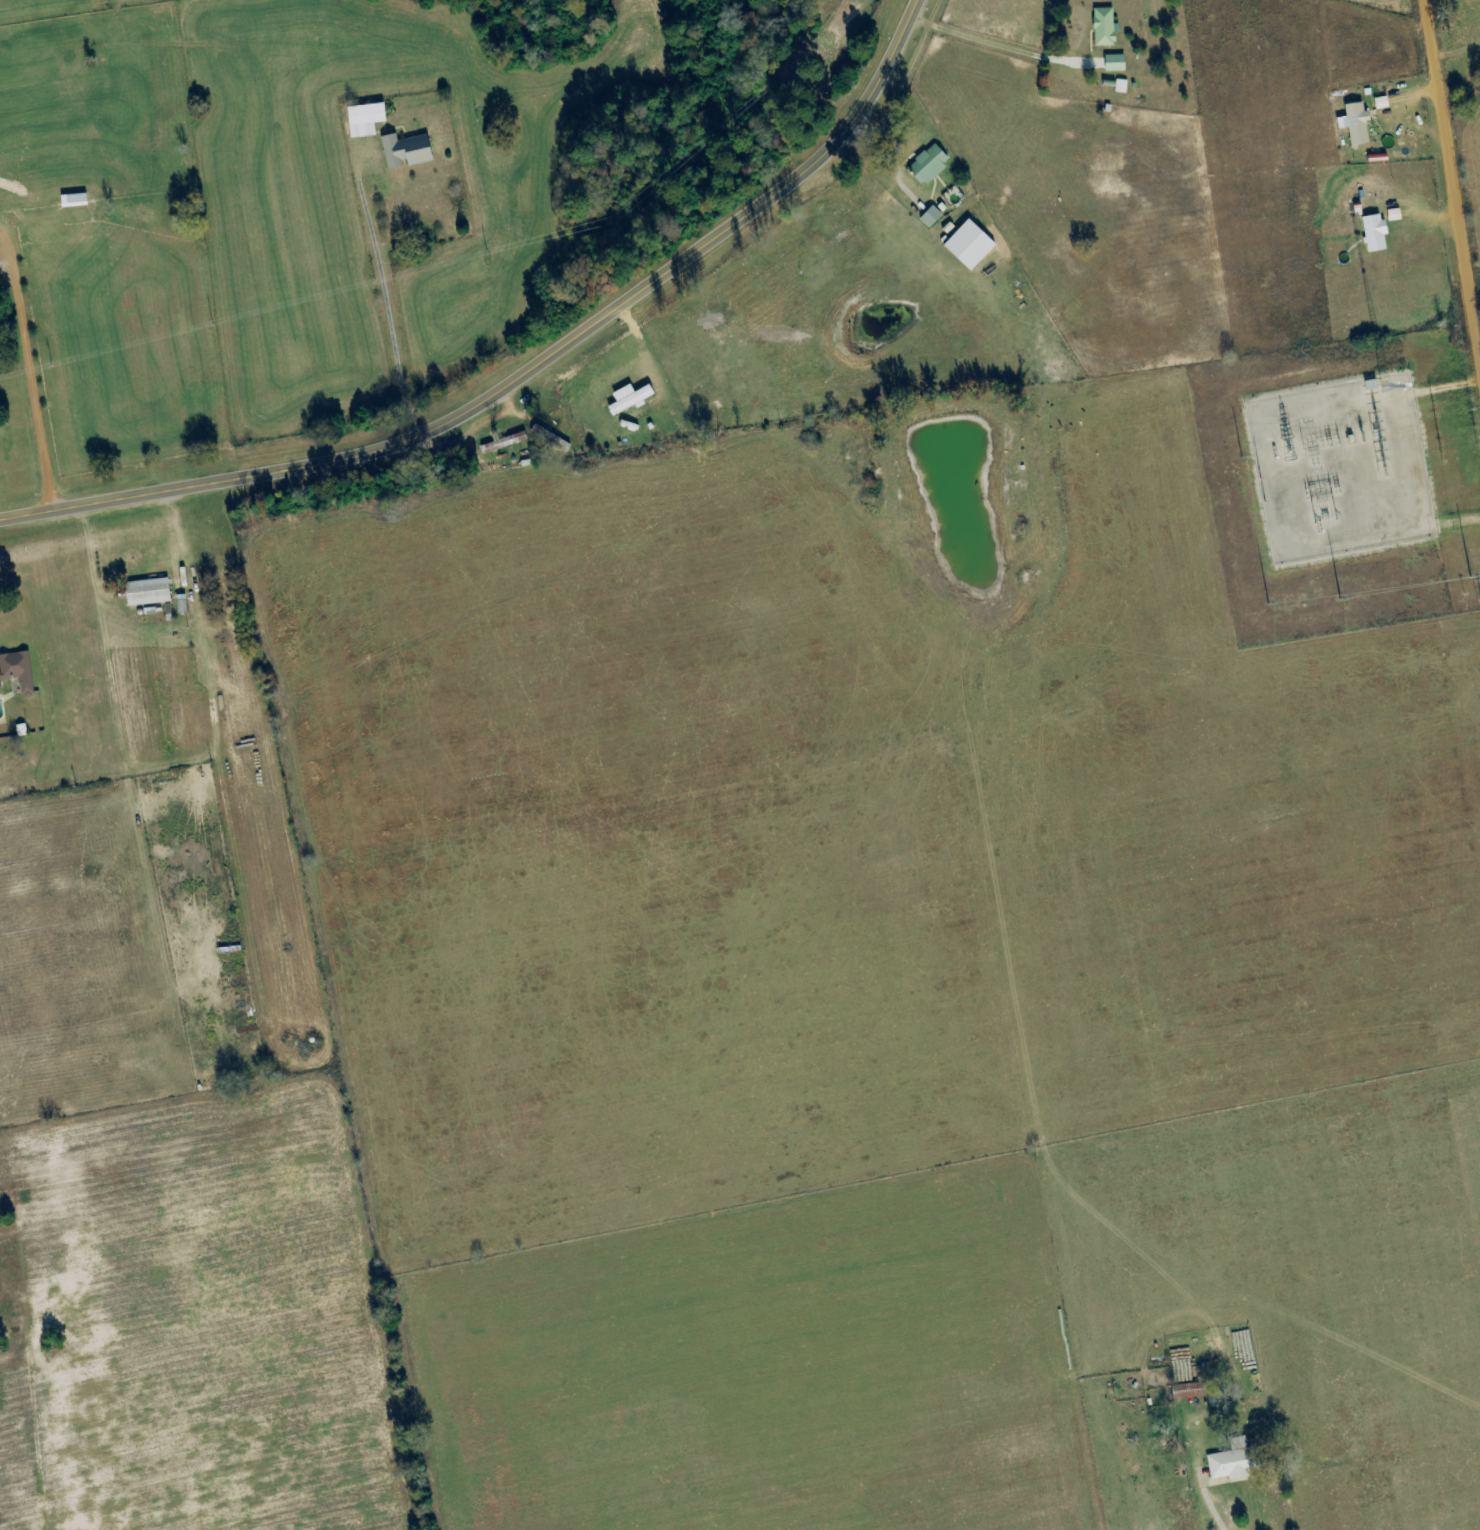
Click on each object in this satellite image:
building: (1102, 27)
building: (1112, 63)
building: (1119, 86)
building: (1379, 103)
building: (362, 119)
building: (1352, 124)
building: (404, 151)
road: (1452, 158)
building: (926, 164)
building: (72, 201)
building: (1391, 215)
building: (927, 217)
building: (1371, 233)
building: (966, 245)
road: (523, 372)
building: (627, 399)
power substation: (1337, 467)
building: (146, 592)
building: (16, 671)
building: (0, 689)
building: (1187, 1391)
building: (1232, 1461)

